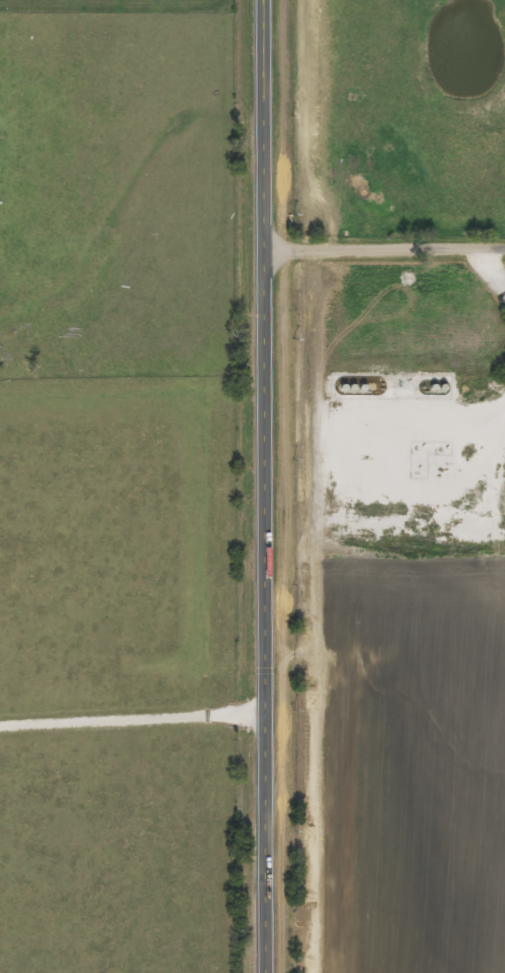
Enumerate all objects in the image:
road: (383, 251)
road: (262, 486)
road: (131, 716)

